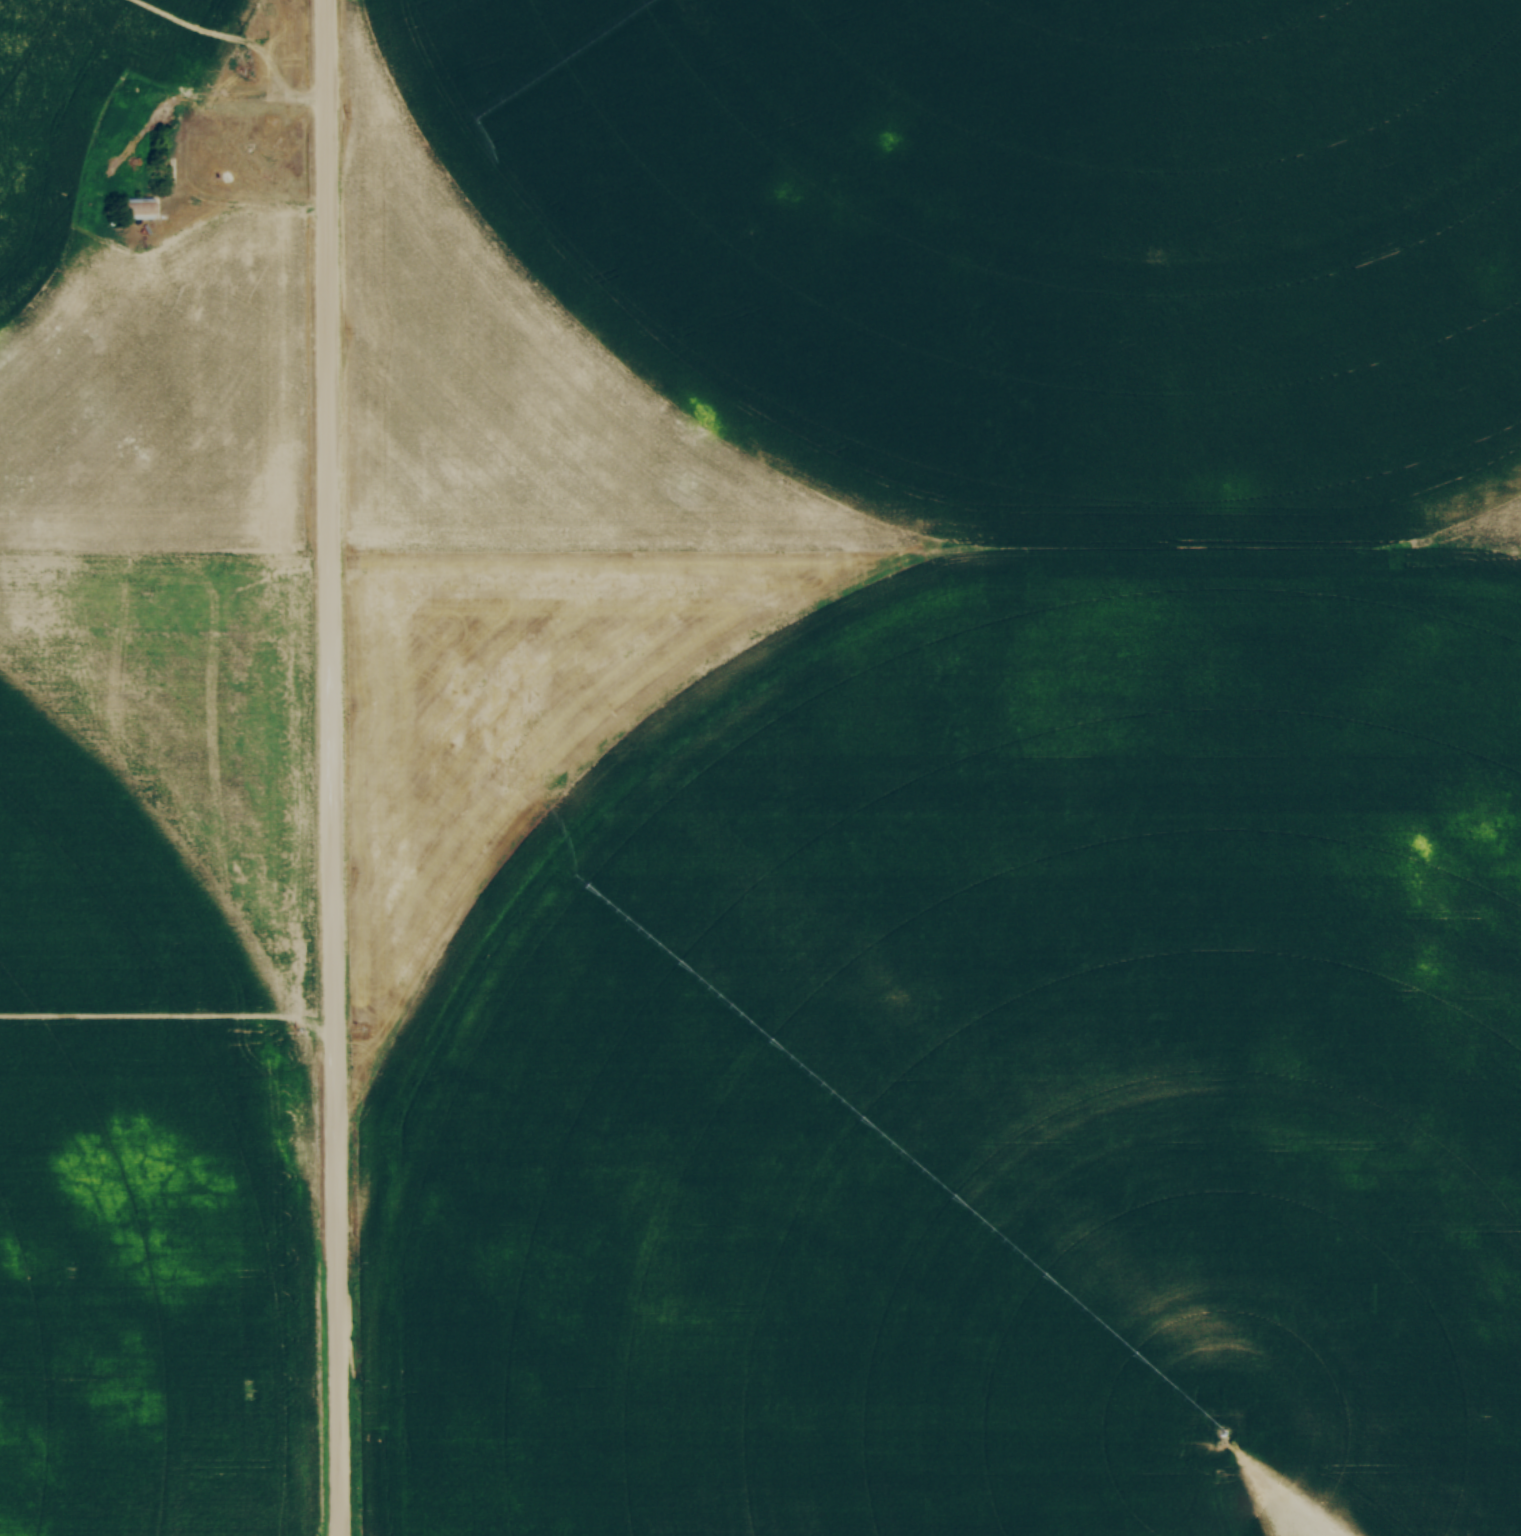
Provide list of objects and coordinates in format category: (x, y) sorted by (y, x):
road: (251, 206)
building: (136, 209)
road: (331, 768)
building: (586, 1381)
building: (596, 1458)

